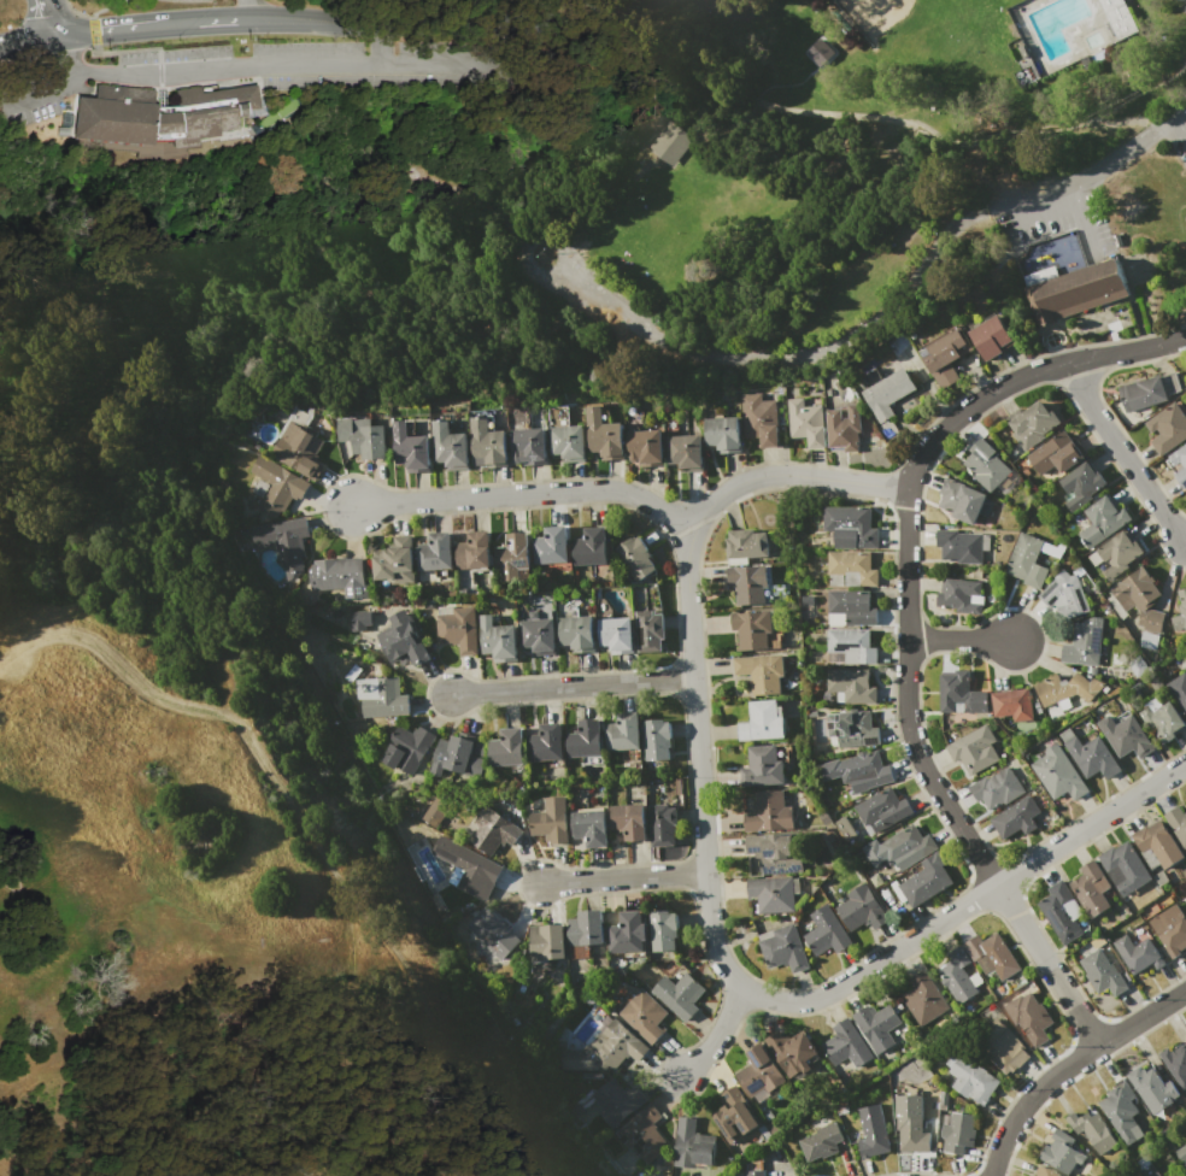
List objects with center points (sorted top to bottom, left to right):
road: (1174, 0)
road: (249, 11)
road: (740, 13)
building: (1116, 16)
road: (49, 18)
road: (313, 20)
road: (223, 22)
road: (169, 25)
road: (507, 25)
road: (98, 33)
road: (1145, 35)
park: (924, 36)
traffic signals: (57, 37)
road: (28, 41)
road: (380, 43)
building: (818, 52)
road: (64, 54)
road: (418, 64)
road: (225, 69)
road: (1161, 78)
road: (783, 83)
road: (1168, 93)
road: (47, 95)
road: (742, 102)
road: (1178, 108)
building: (204, 113)
building: (117, 114)
road: (711, 114)
road: (1178, 124)
road: (1185, 133)
building: (670, 141)
road: (673, 142)
parking lot: (1179, 143)
road: (891, 181)
road: (598, 192)
park: (586, 210)
road: (1049, 213)
road: (1084, 217)
parking lot: (1059, 220)
road: (513, 230)
road: (523, 241)
road: (566, 254)
road: (127, 274)
building: (1071, 290)
parking lot: (607, 299)
road: (431, 304)
road: (889, 310)
building: (990, 337)
building: (945, 357)
building: (886, 390)
building: (1147, 392)
building: (758, 419)
building: (806, 422)
building: (1033, 424)
building: (844, 428)
building: (1168, 429)
building: (722, 434)
building: (603, 435)
building: (363, 437)
building: (566, 442)
building: (298, 445)
building: (488, 445)
building: (450, 446)
building: (528, 446)
building: (645, 447)
building: (410, 448)
building: (683, 453)
road: (1123, 453)
building: (1057, 454)
building: (986, 464)
building: (1181, 470)
building: (275, 486)
building: (1080, 486)
road: (640, 500)
building: (962, 500)
building: (1102, 522)
building: (849, 528)
building: (283, 543)
building: (746, 543)
building: (550, 546)
building: (962, 546)
building: (589, 547)
building: (434, 552)
building: (472, 552)
building: (1116, 554)
building: (512, 557)
building: (634, 557)
building: (1031, 559)
building: (395, 561)
building: (851, 569)
building: (339, 576)
building: (753, 584)
building: (1065, 594)
building: (962, 595)
building: (1182, 600)
building: (1139, 605)
building: (847, 607)
building: (359, 618)
road: (908, 625)
building: (457, 628)
building: (650, 630)
building: (752, 630)
building: (576, 633)
building: (616, 634)
building: (538, 635)
building: (498, 640)
building: (401, 641)
road: (959, 641)
building: (1084, 643)
building: (850, 647)
building: (761, 671)
building: (851, 684)
road: (573, 687)
building: (1068, 688)
building: (1179, 690)
building: (961, 693)
building: (382, 696)
building: (1014, 704)
building: (1162, 718)
building: (763, 722)
building: (852, 729)
building: (623, 731)
building: (1126, 734)
building: (583, 739)
building: (656, 740)
building: (545, 743)
building: (405, 748)
building: (506, 748)
building: (974, 749)
building: (457, 755)
building: (1093, 757)
building: (762, 766)
building: (857, 771)
building: (1059, 774)
building: (996, 788)
building: (882, 810)
building: (431, 811)
building: (765, 813)
building: (1016, 817)
building: (628, 819)
building: (551, 821)
building: (1178, 823)
building: (662, 824)
building: (589, 827)
building: (491, 830)
road: (309, 833)
building: (1156, 845)
building: (900, 848)
park: (202, 851)
building: (776, 852)
building: (1125, 866)
building: (466, 868)
road: (25, 871)
road: (624, 880)
building: (927, 880)
building: (1091, 888)
building: (771, 893)
building: (1184, 898)
building: (861, 909)
building: (1062, 912)
building: (586, 928)
building: (1169, 929)
building: (662, 930)
building: (492, 933)
building: (826, 933)
building: (627, 935)
building: (547, 942)
building: (783, 948)
building: (1138, 953)
building: (992, 957)
building: (1102, 972)
building: (956, 976)
building: (679, 994)
road: (761, 995)
building: (924, 1002)
building: (642, 1016)
building: (1029, 1017)
building: (876, 1025)
road: (717, 1034)
building: (846, 1045)
building: (1002, 1047)
building: (603, 1048)
building: (792, 1051)
building: (1175, 1063)
road: (1069, 1065)
building: (759, 1074)
building: (973, 1080)
building: (1152, 1088)
building: (944, 1098)
building: (612, 1101)
building: (1121, 1112)
building: (733, 1115)
building: (873, 1131)
building: (958, 1133)
building: (1093, 1133)
building: (641, 1134)
building: (911, 1134)
building: (821, 1141)
building: (692, 1145)
building: (1062, 1152)
building: (1182, 1154)
building: (1149, 1170)
building: (1045, 1171)
building: (755, 1172)
building: (1182, 1175)

